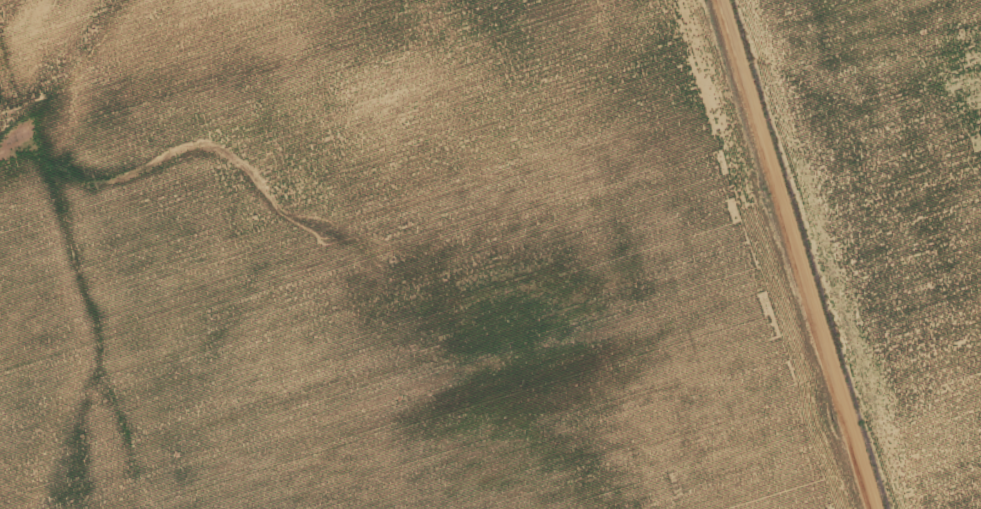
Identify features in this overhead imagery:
road: (795, 254)

